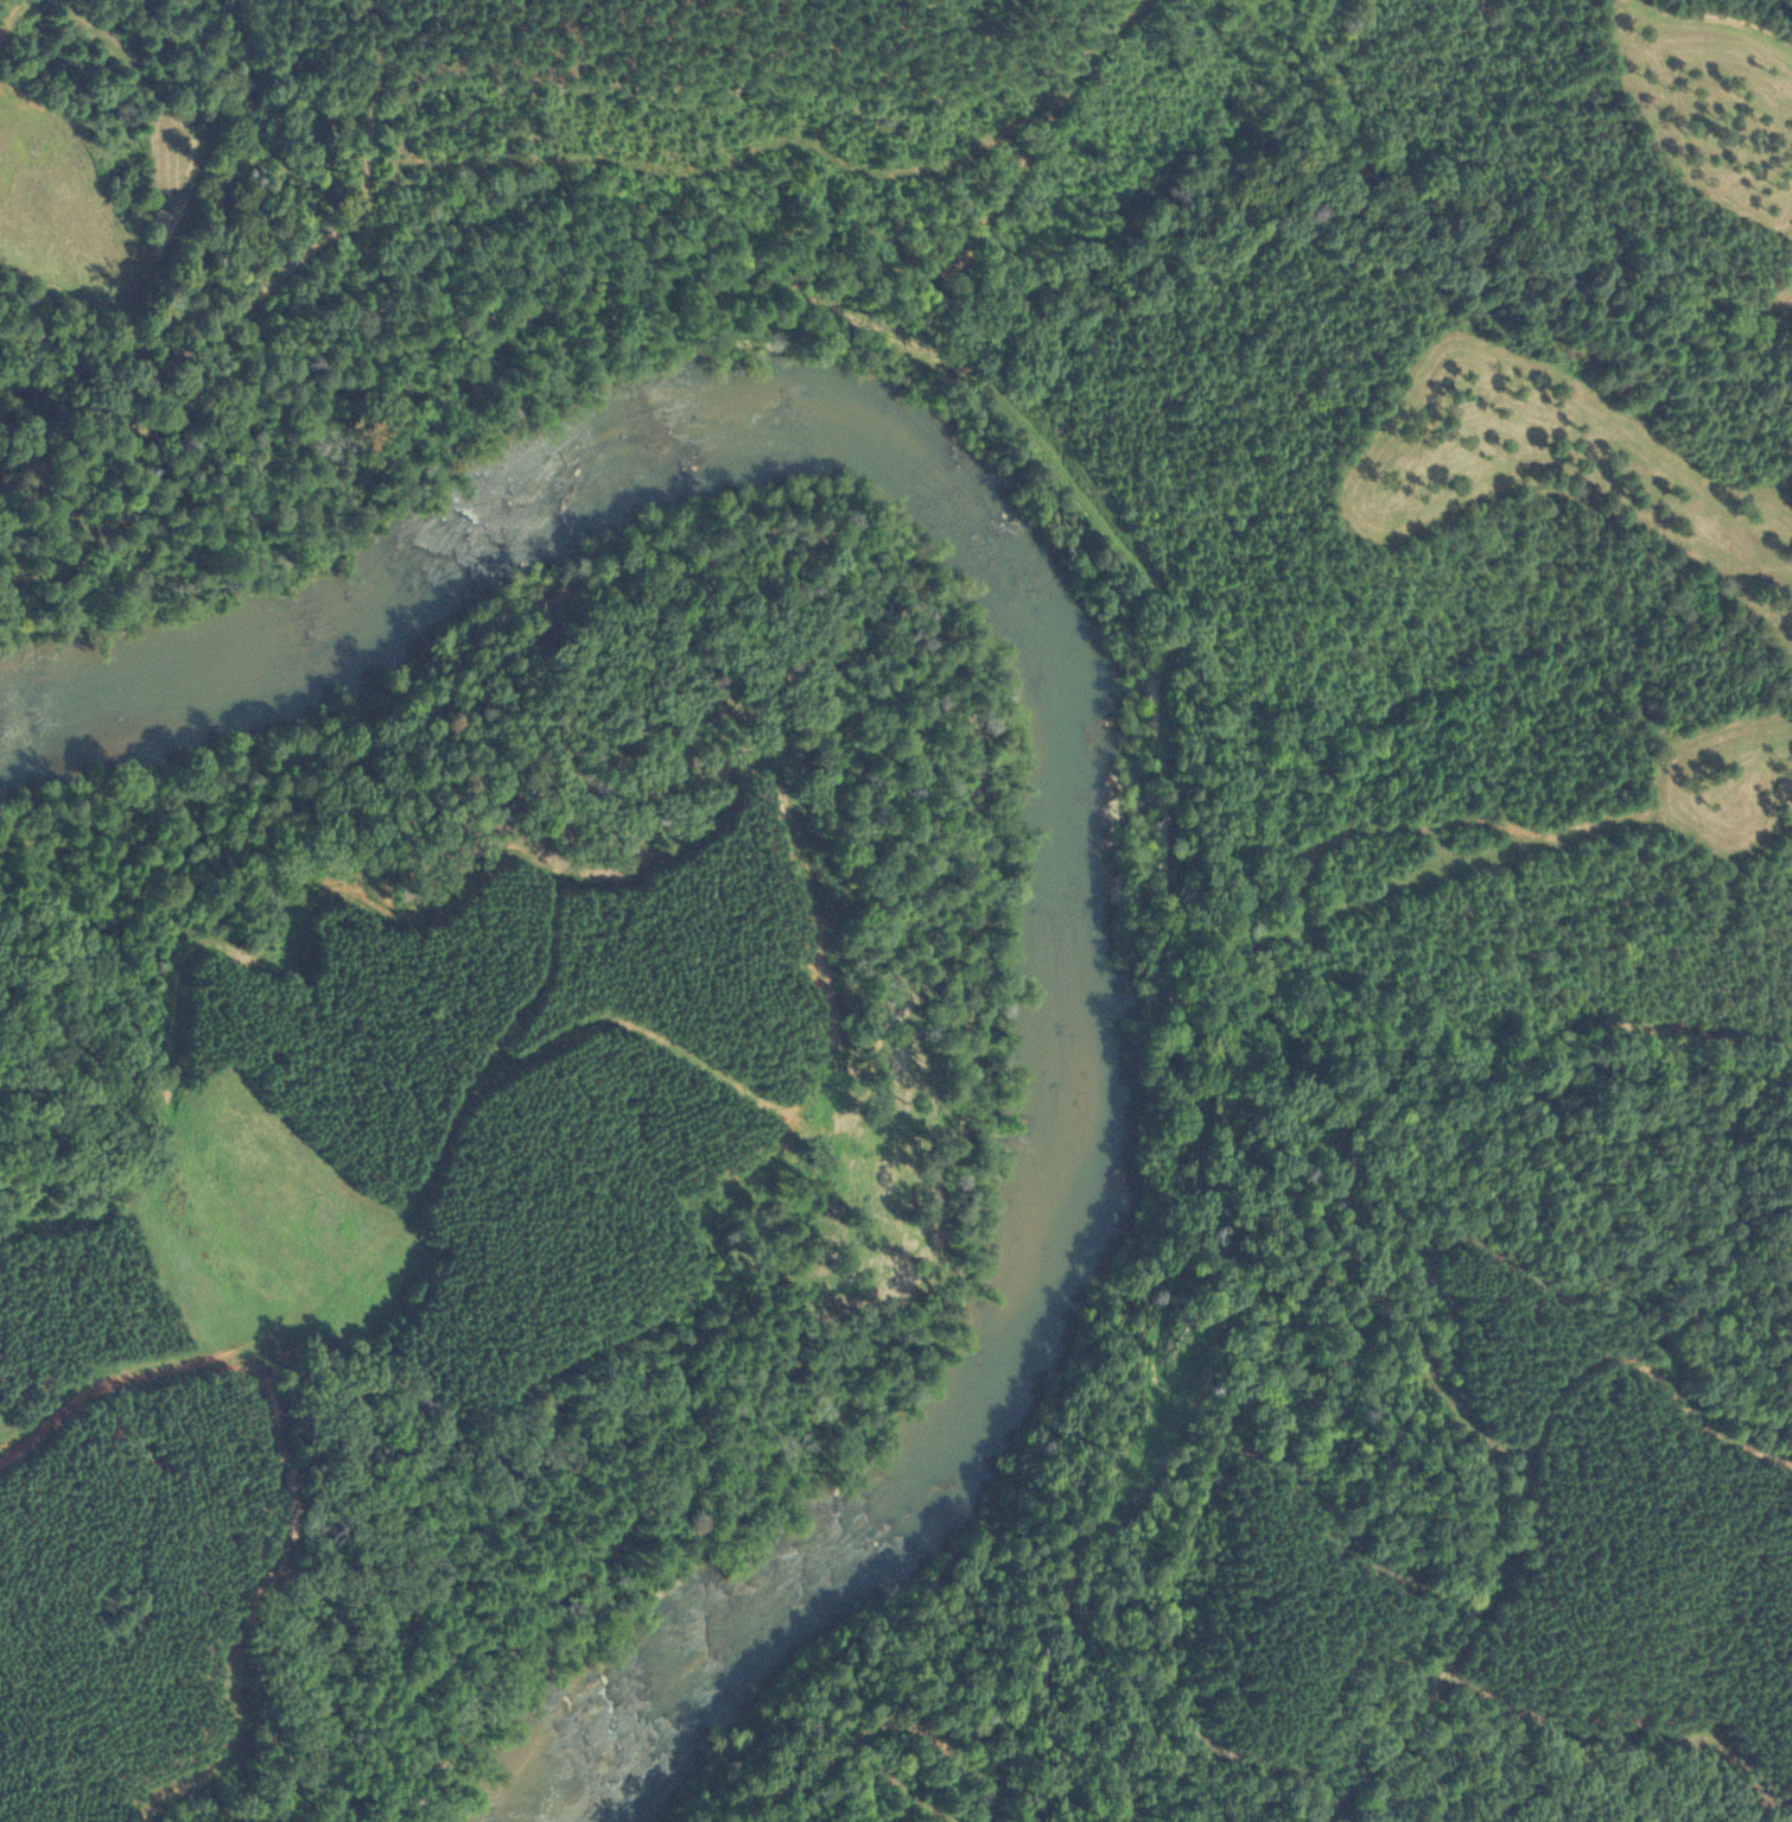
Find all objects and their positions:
road: (1531, 104)
river: (1069, 710)

